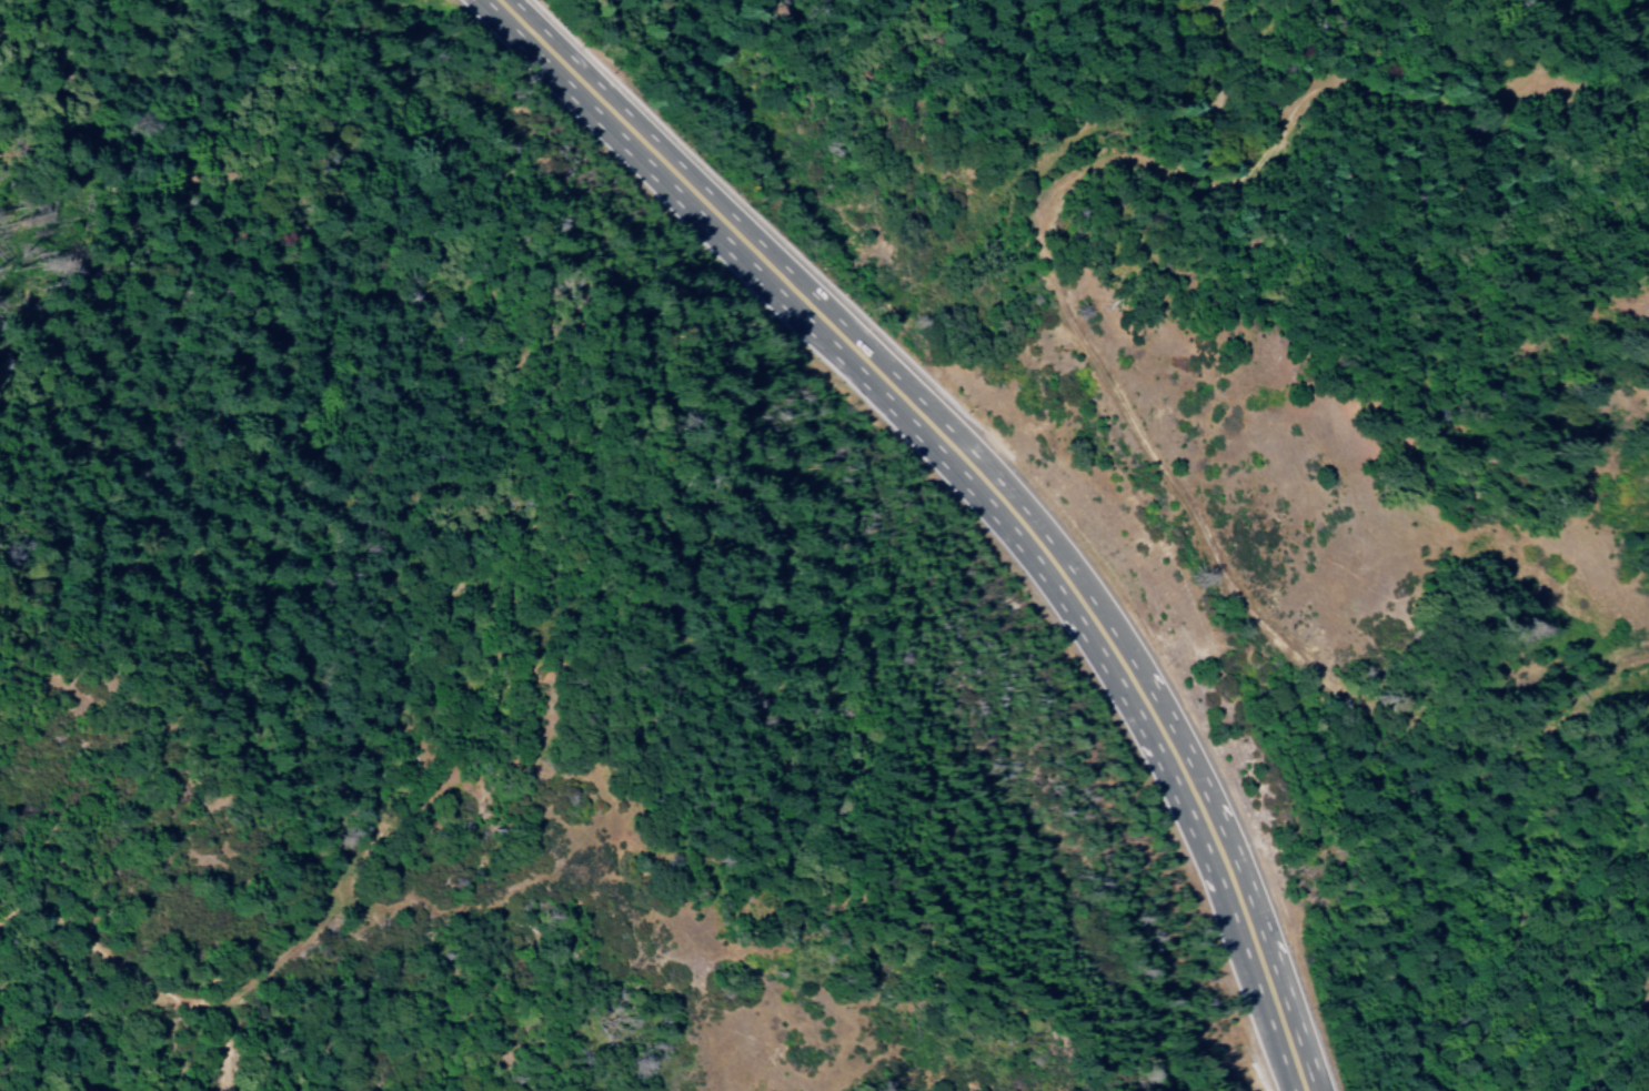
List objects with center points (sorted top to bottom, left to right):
road: (832, 331)
road: (1235, 883)
road: (1641, 992)

